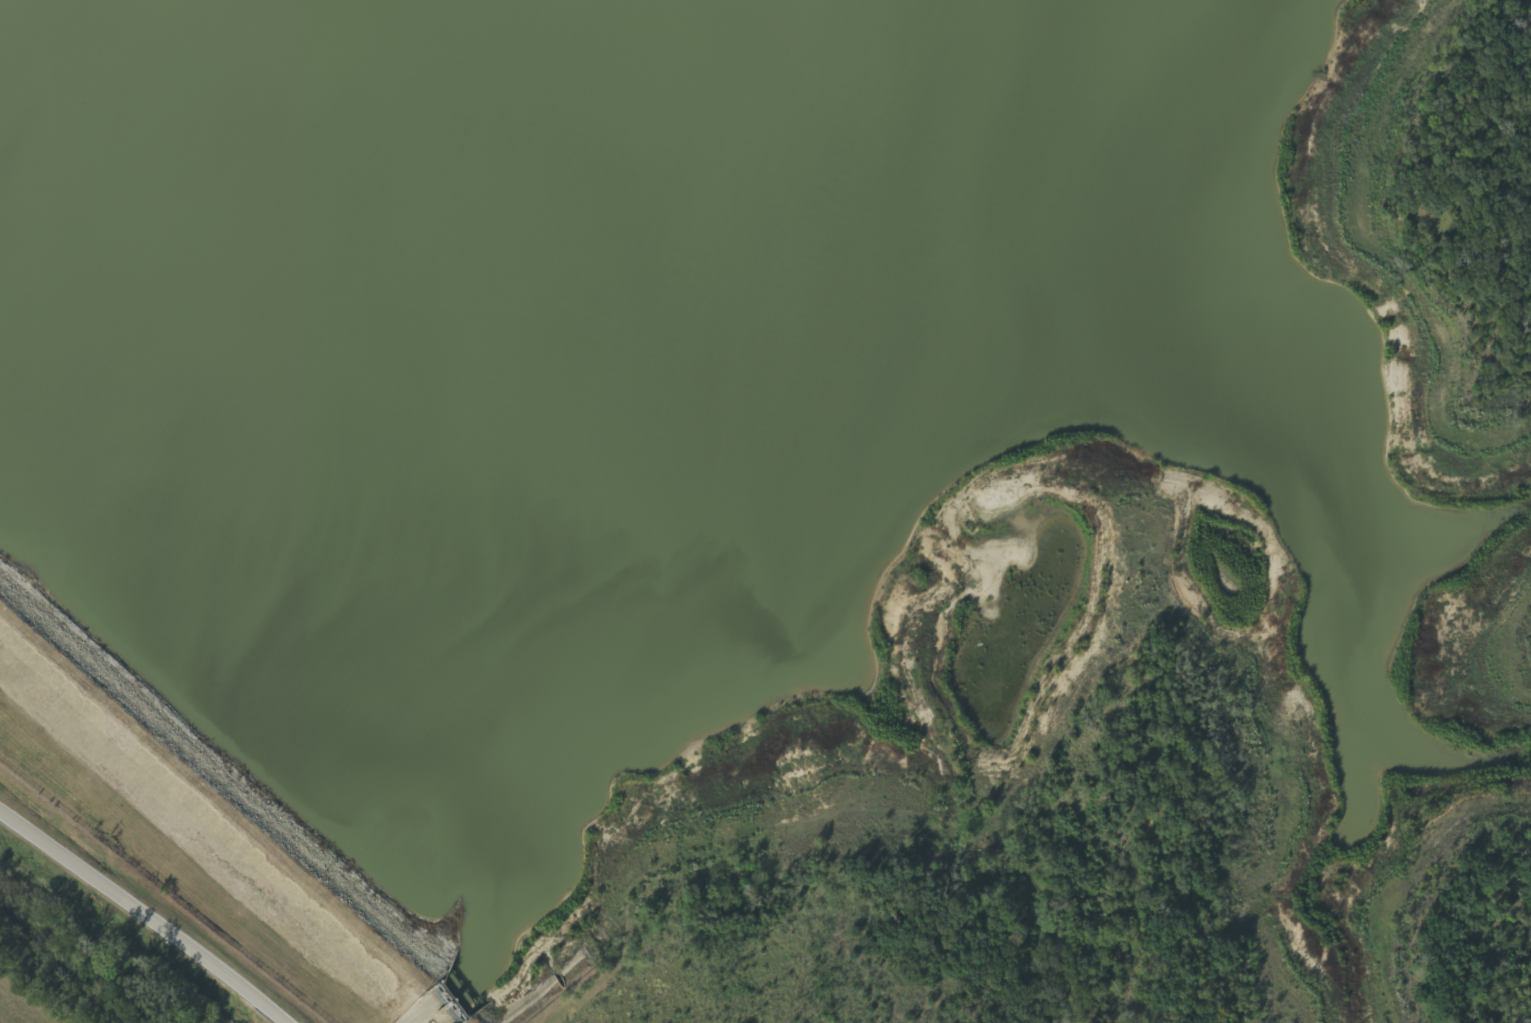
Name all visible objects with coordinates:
road: (139, 915)
road: (1095, 935)

